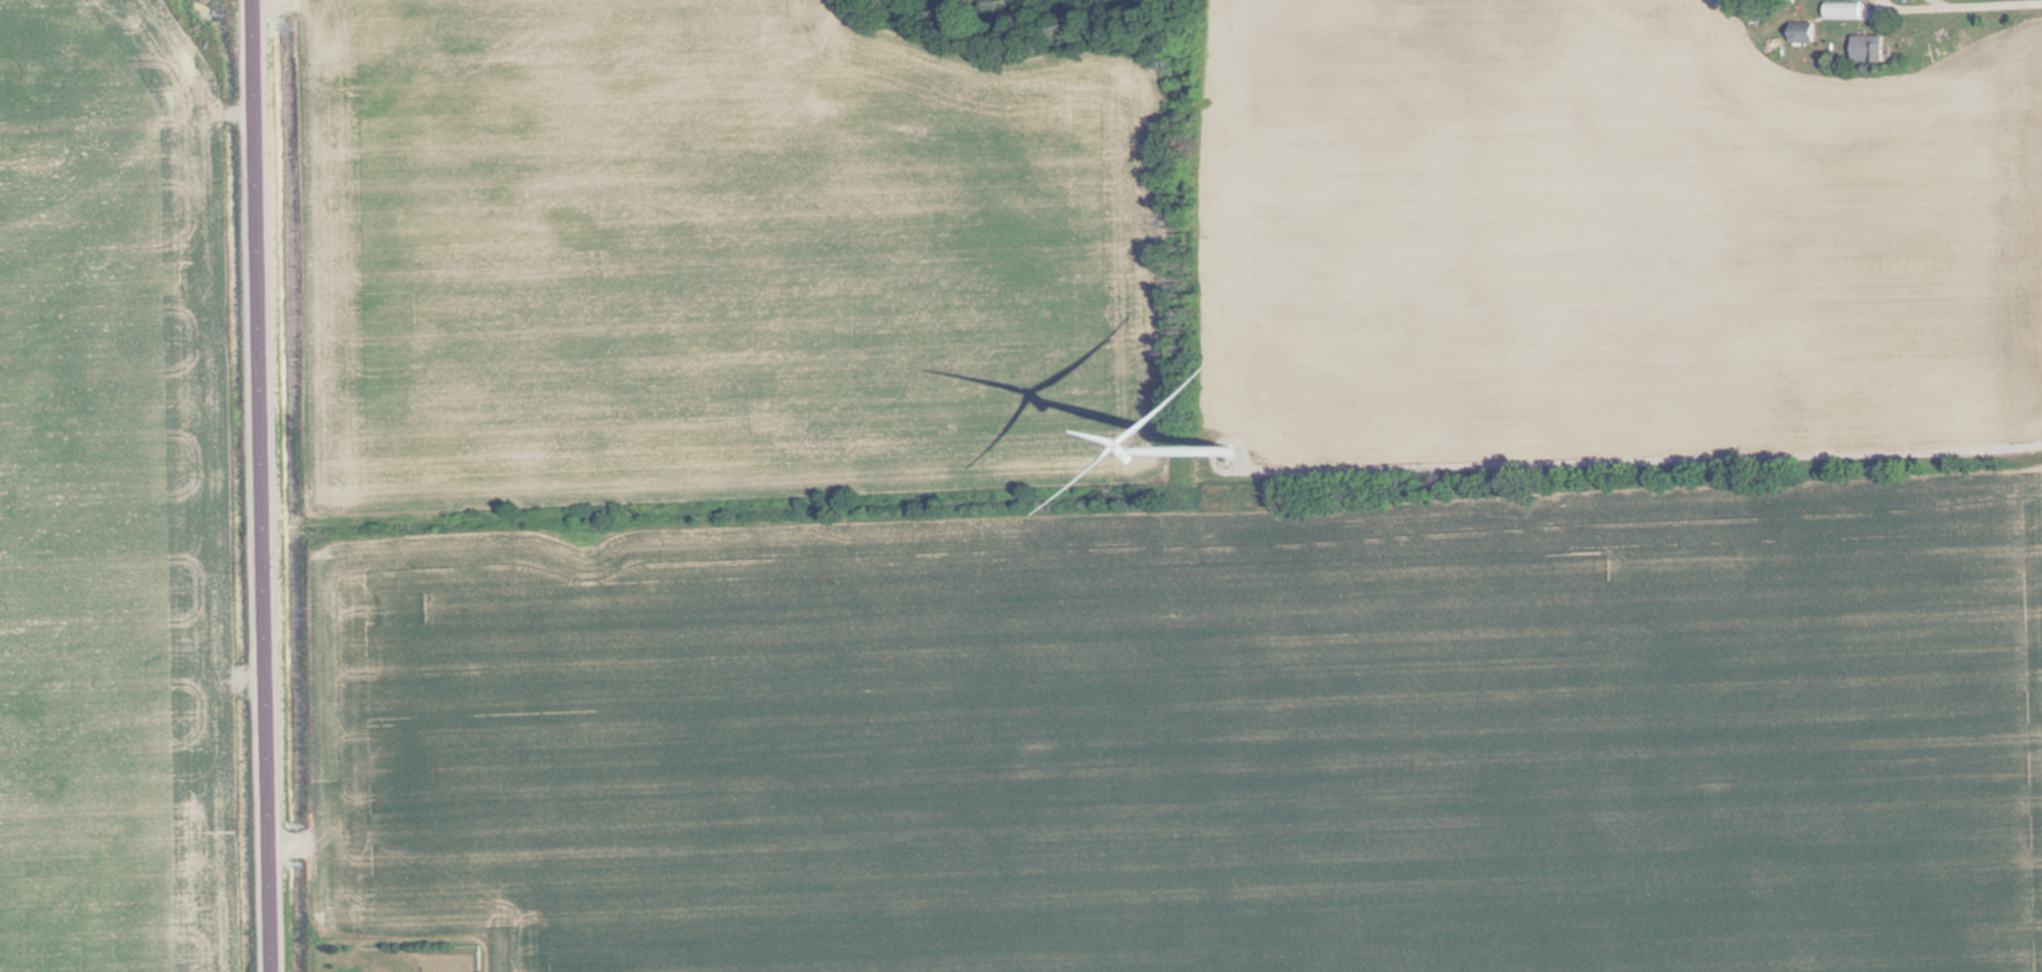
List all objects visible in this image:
building: (1839, 10)
building: (1799, 31)
building: (1863, 48)
wind turbine: (1221, 442)
road: (263, 486)

